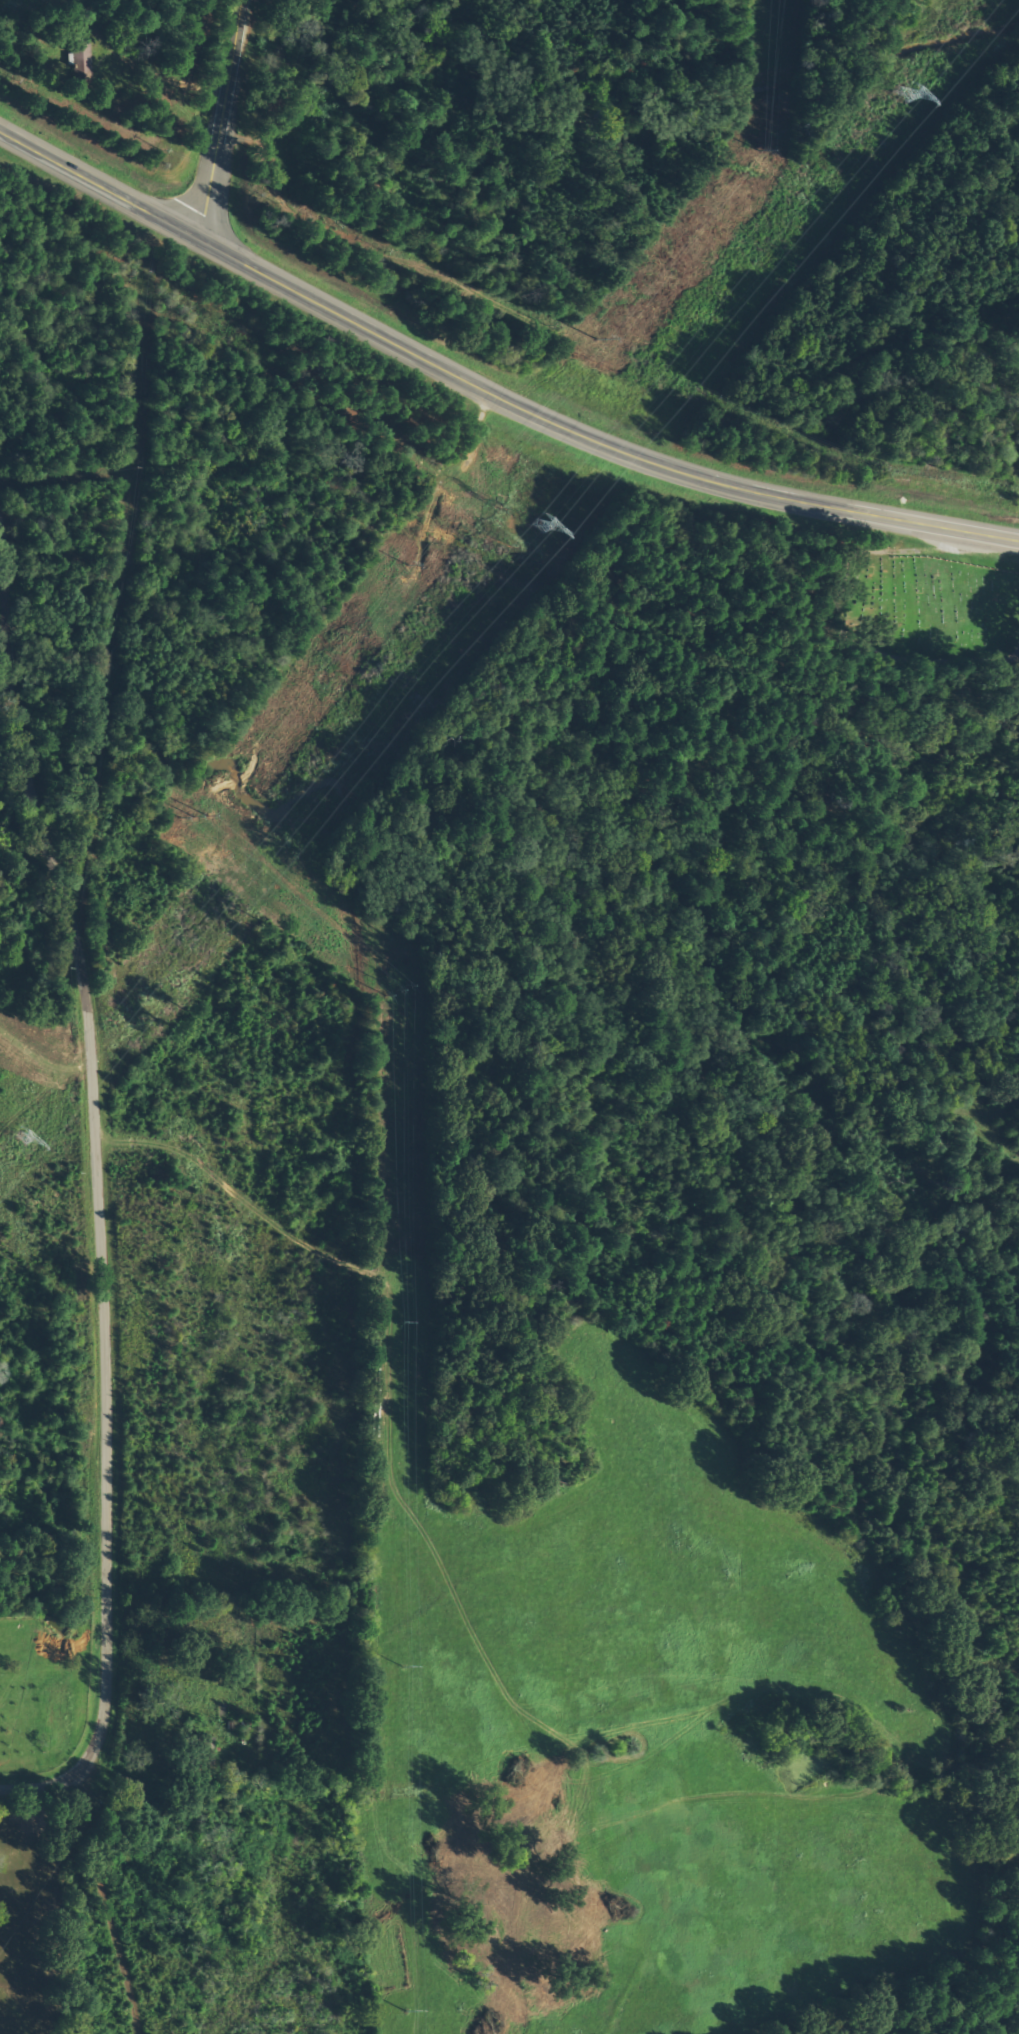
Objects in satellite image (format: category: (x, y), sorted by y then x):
building: (78, 59)
road: (222, 120)
road: (488, 389)
park: (1015, 484)
park: (924, 615)
road: (843, 622)
road: (78, 1150)
road: (53, 1769)

